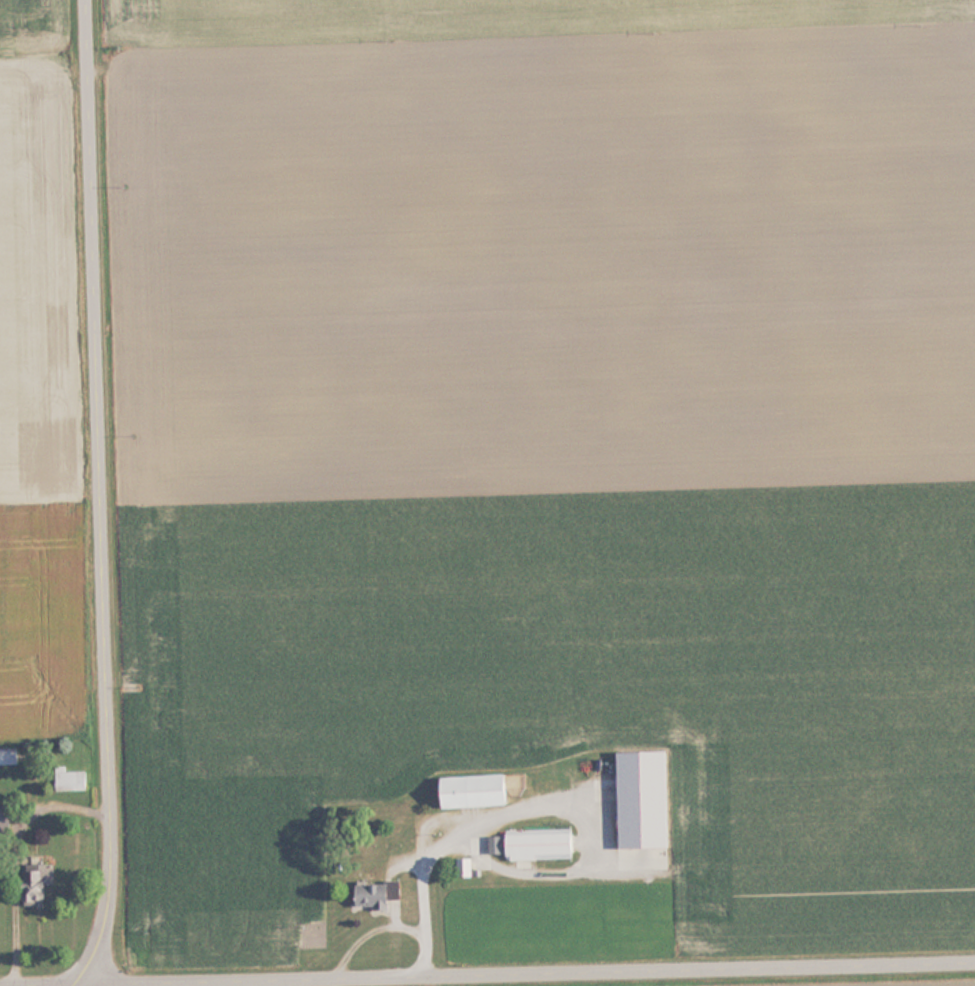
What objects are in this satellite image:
road: (110, 496)
building: (9, 757)
building: (79, 781)
building: (478, 791)
building: (646, 800)
building: (5, 821)
building: (536, 844)
building: (39, 881)
building: (379, 894)
road: (532, 971)

